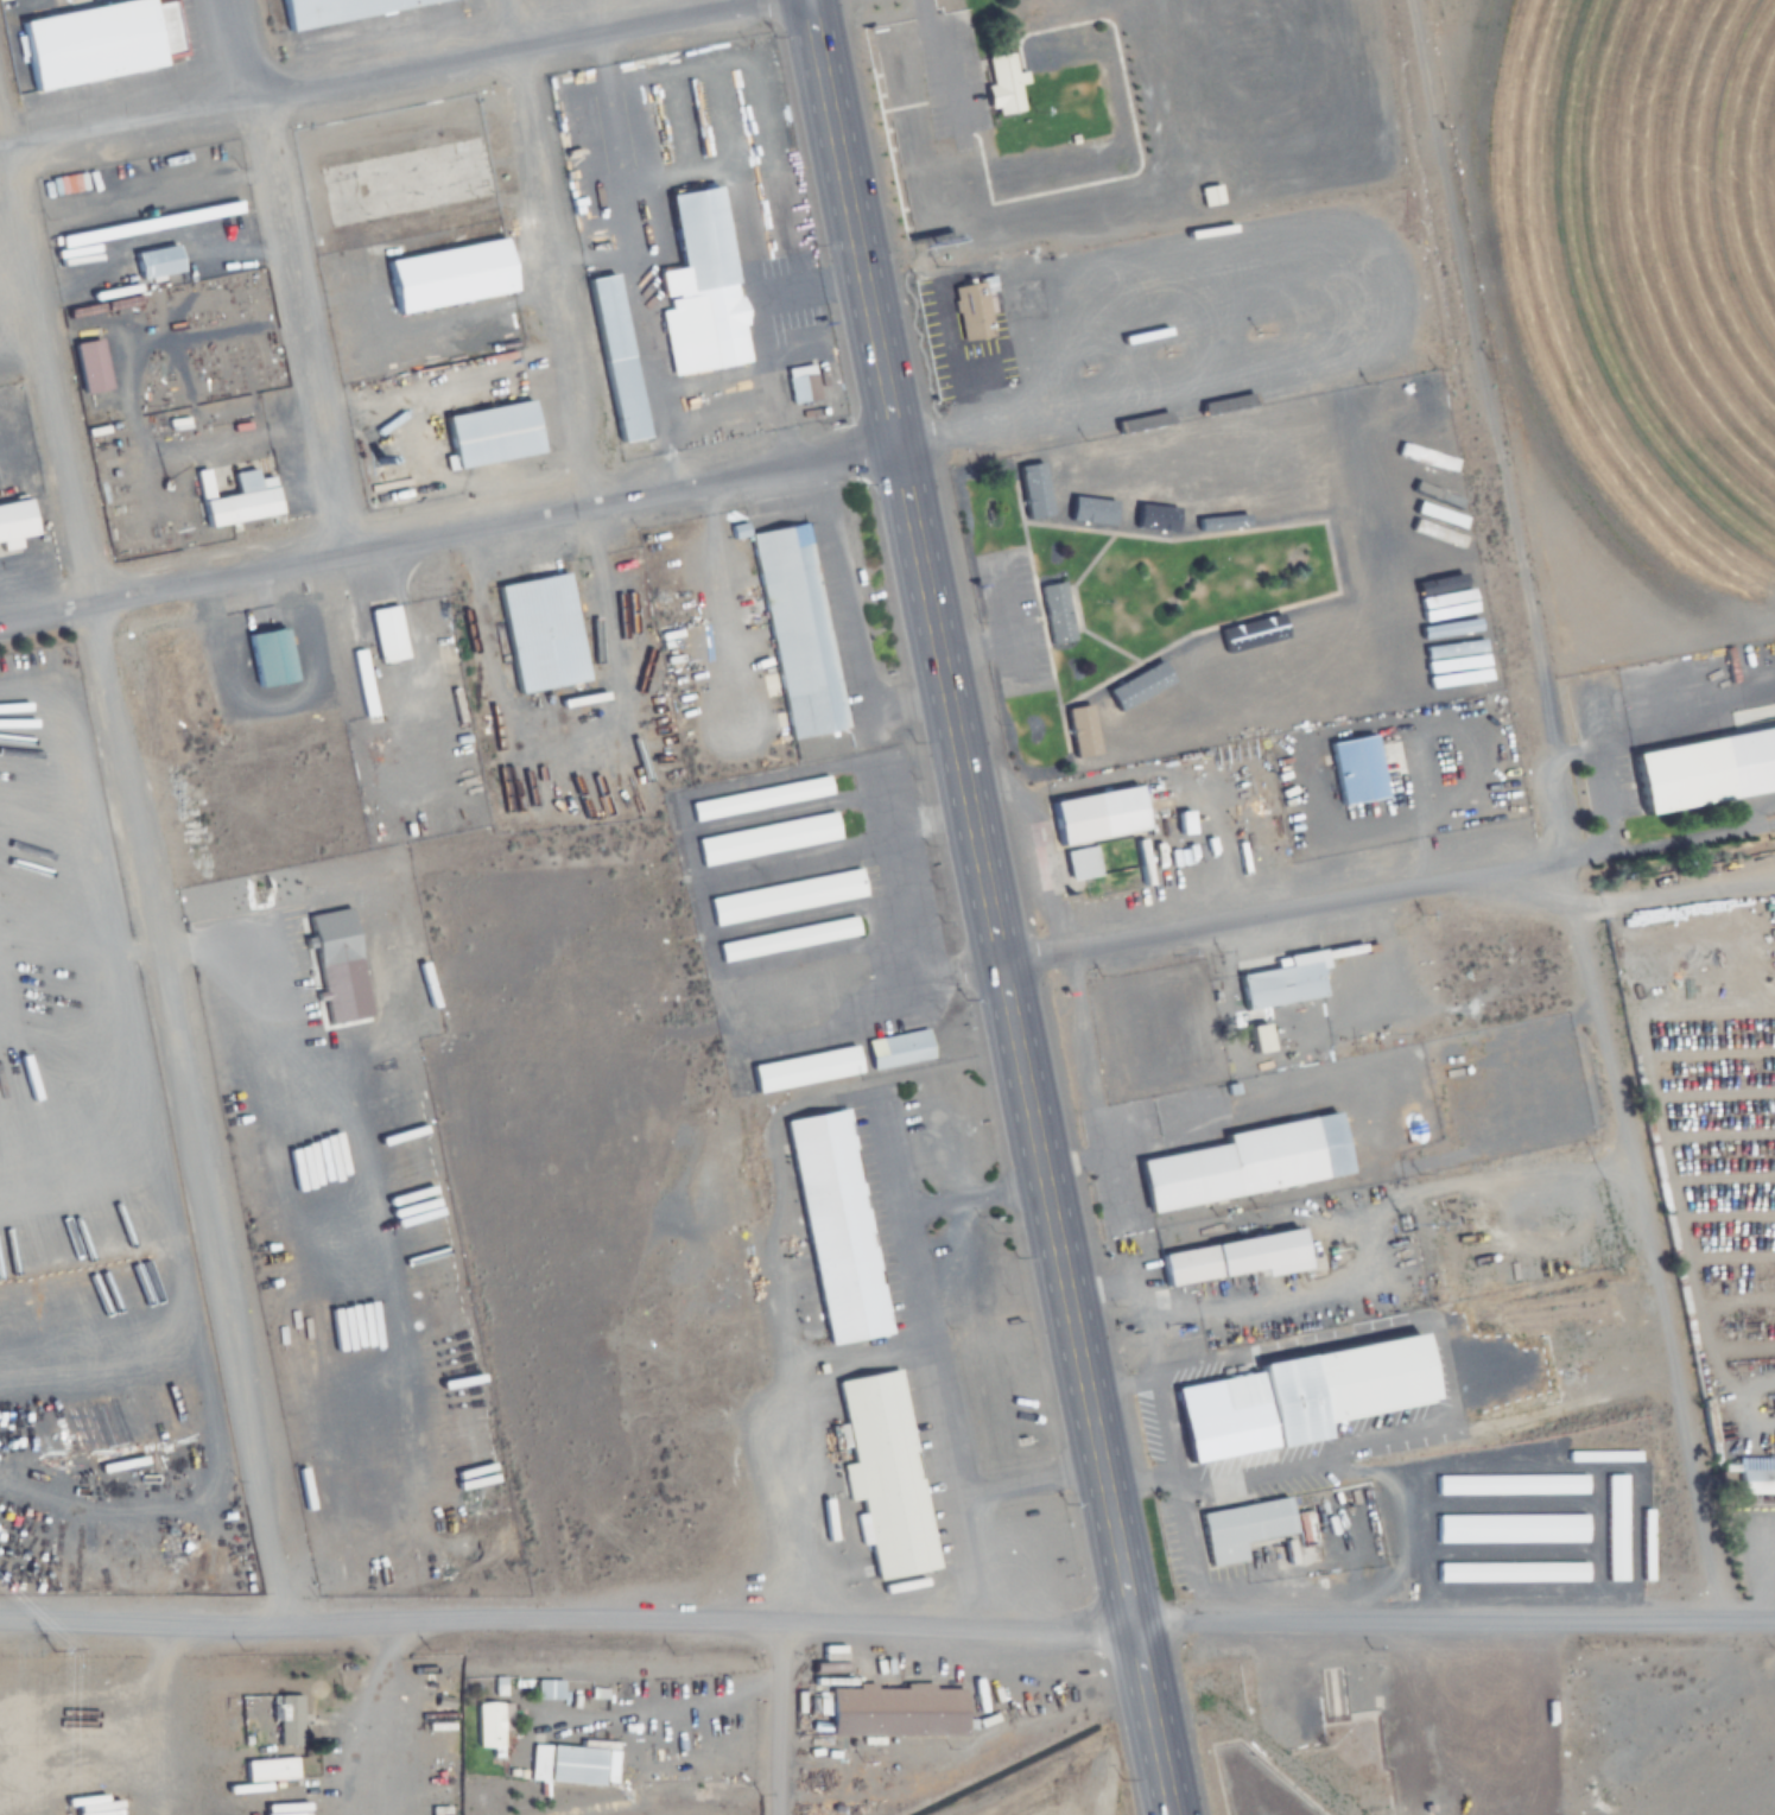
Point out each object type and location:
building: (312, 6)
road: (502, 23)
building: (85, 38)
road: (249, 50)
road: (356, 78)
building: (1002, 84)
building: (1207, 195)
building: (158, 222)
building: (154, 261)
building: (448, 275)
road: (551, 277)
building: (699, 286)
building: (971, 311)
road: (302, 326)
building: (615, 357)
road: (1438, 358)
building: (800, 383)
building: (489, 433)
road: (809, 467)
road: (661, 495)
building: (235, 499)
building: (1117, 514)
building: (1190, 518)
building: (13, 525)
building: (1349, 552)
road: (44, 614)
building: (1054, 614)
building: (794, 630)
building: (537, 633)
building: (385, 634)
building: (266, 658)
road: (482, 659)
road: (416, 672)
building: (1156, 673)
building: (361, 683)
building: (1080, 728)
road: (115, 735)
building: (1709, 763)
building: (1354, 769)
road: (543, 778)
building: (756, 798)
building: (1093, 814)
building: (765, 838)
building: (1079, 862)
road: (1387, 896)
building: (784, 897)
road: (984, 907)
building: (331, 939)
building: (785, 940)
building: (392, 973)
building: (1280, 982)
building: (896, 1046)
building: (798, 1064)
building: (1240, 1164)
building: (832, 1220)
road: (1638, 1237)
building: (1229, 1259)
building: (1291, 1400)
building: (883, 1474)
building: (1754, 1477)
building: (1508, 1485)
building: (1614, 1528)
building: (1509, 1529)
building: (1238, 1530)
building: (1304, 1530)
building: (1646, 1544)
building: (1510, 1573)
road: (887, 1622)
building: (547, 1689)
building: (893, 1712)
road: (781, 1718)
building: (1532, 1720)
building: (489, 1722)
building: (573, 1764)
building: (267, 1770)

